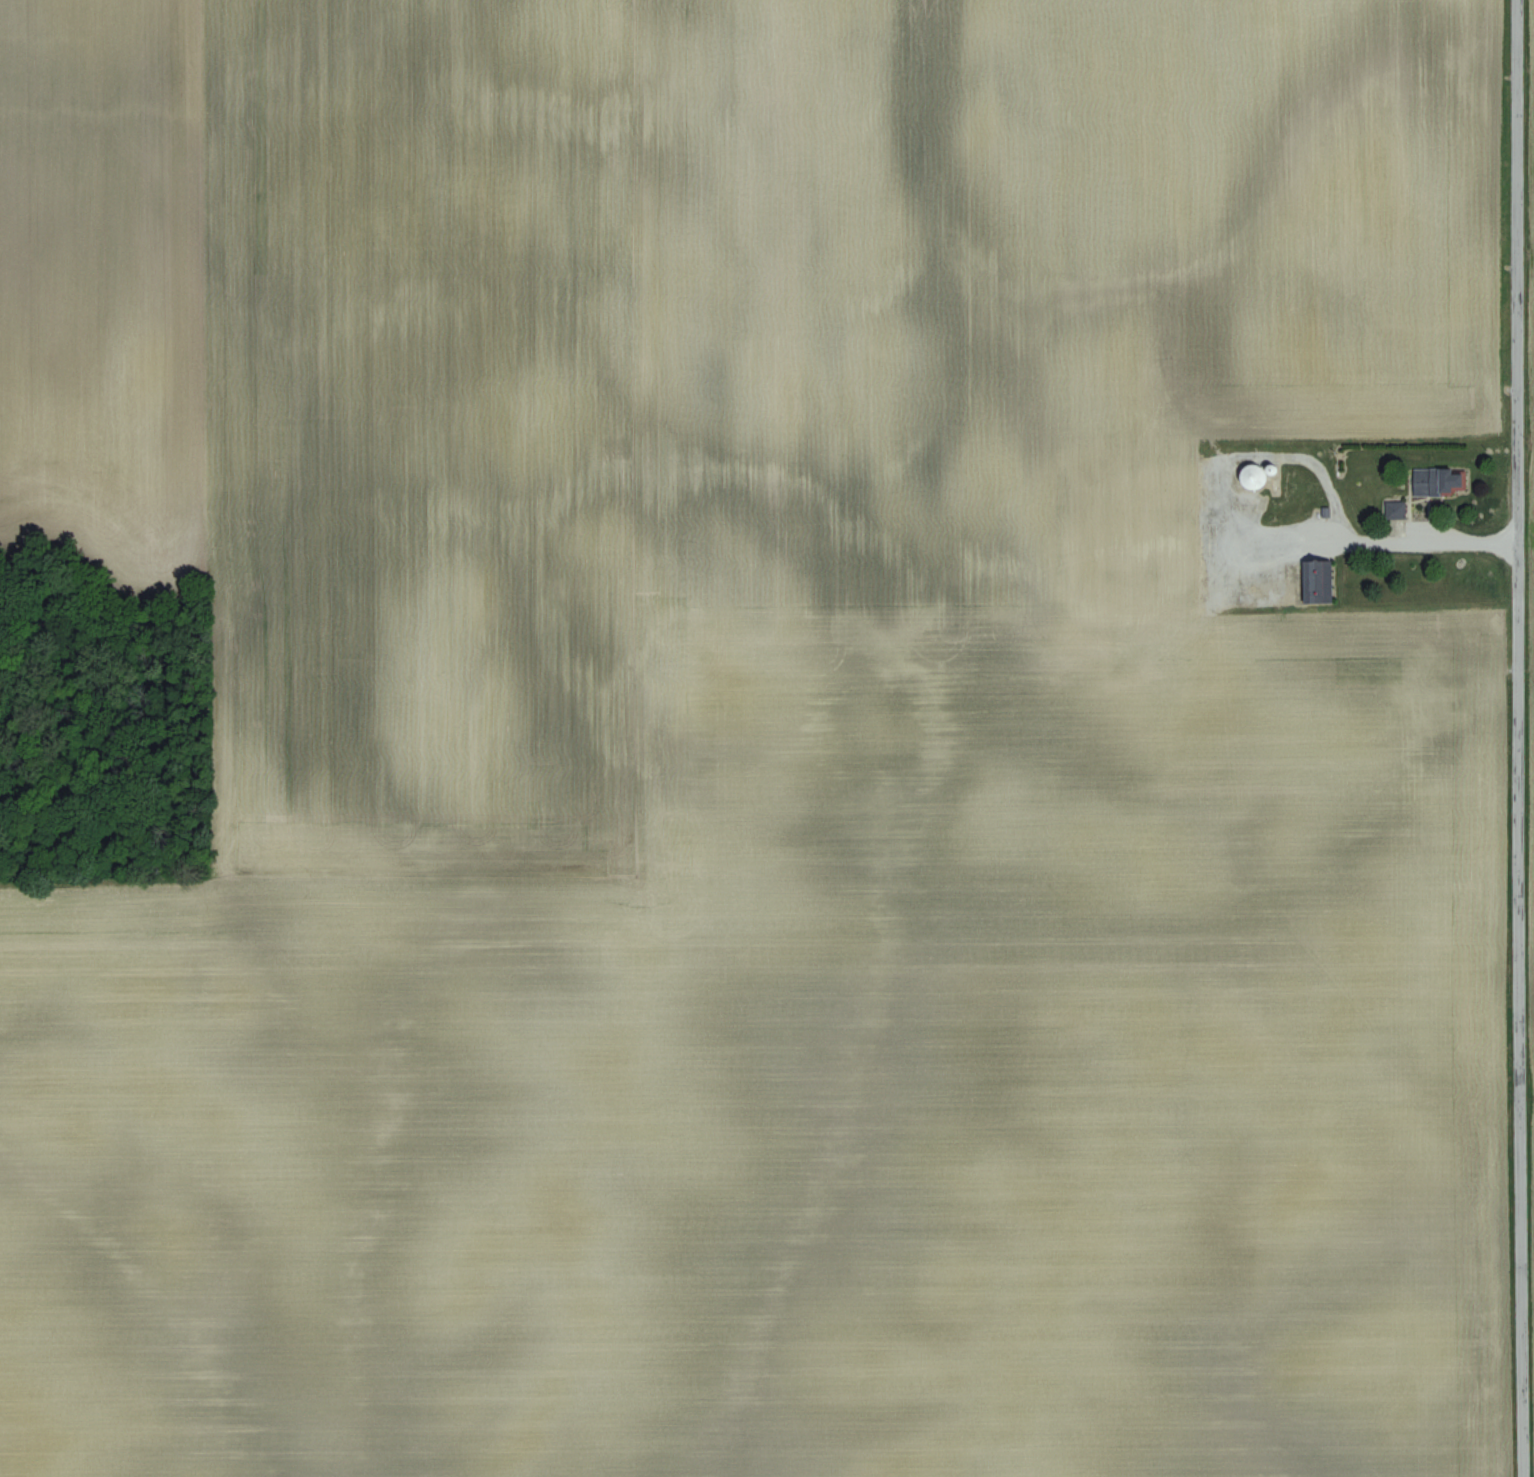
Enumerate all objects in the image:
building: (1255, 477)
building: (1439, 482)
road: (1365, 539)
building: (1313, 582)
road: (1520, 738)

